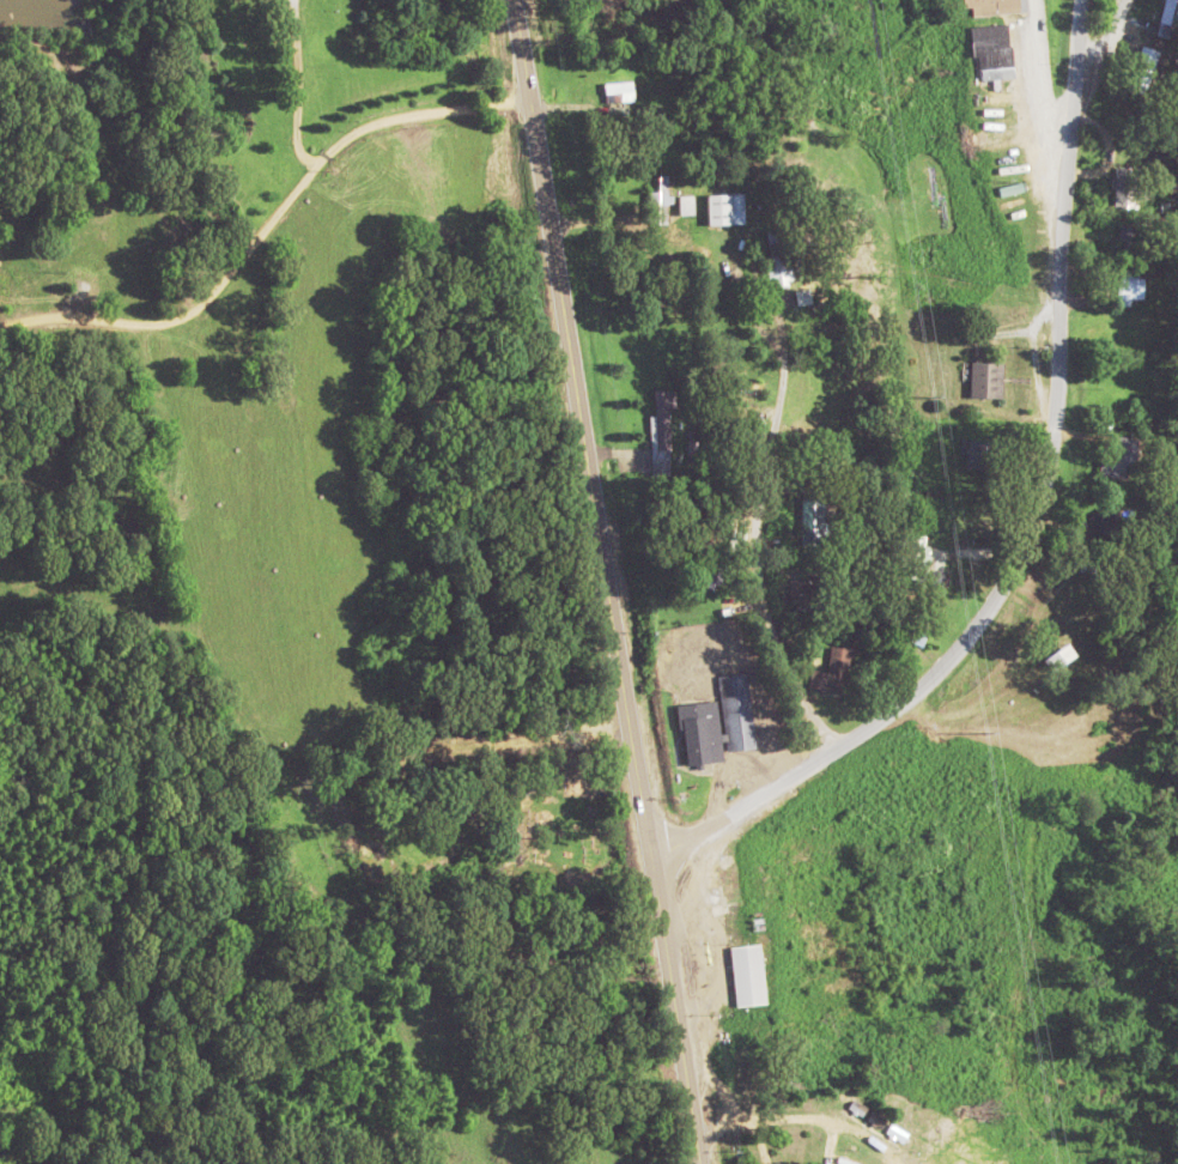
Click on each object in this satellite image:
building: (992, 6)
building: (1170, 12)
building: (994, 51)
road: (1095, 59)
building: (1143, 69)
road: (298, 86)
building: (619, 91)
road: (1015, 119)
building: (1128, 187)
building: (658, 201)
building: (686, 204)
building: (725, 207)
road: (266, 225)
building: (1129, 232)
building: (779, 257)
building: (1129, 285)
building: (986, 380)
power tower: (931, 396)
road: (581, 425)
building: (662, 429)
building: (1122, 459)
road: (1031, 519)
building: (814, 521)
building: (1106, 522)
road: (757, 528)
building: (916, 558)
building: (716, 568)
building: (1097, 570)
building: (1061, 656)
building: (832, 673)
building: (736, 711)
power tower: (986, 730)
building: (702, 733)
building: (748, 975)
road: (795, 977)
road: (668, 1008)
building: (842, 1159)

